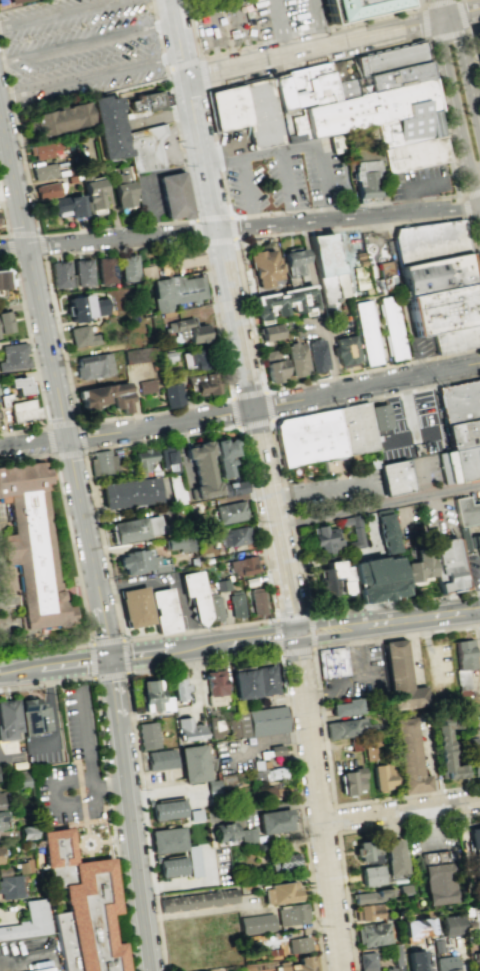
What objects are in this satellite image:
building: (9, 3)
road: (439, 4)
building: (356, 8)
road: (443, 9)
road: (60, 13)
road: (462, 15)
road: (463, 15)
parking lot: (250, 23)
road: (313, 24)
road: (424, 25)
road: (277, 28)
road: (241, 33)
road: (214, 36)
road: (447, 36)
road: (177, 40)
road: (286, 41)
building: (478, 41)
road: (87, 43)
parking lot: (80, 49)
road: (230, 49)
road: (315, 49)
road: (472, 50)
road: (198, 60)
building: (386, 60)
building: (337, 74)
road: (466, 75)
road: (90, 76)
building: (379, 82)
road: (216, 87)
building: (309, 88)
building: (280, 96)
building: (146, 102)
building: (227, 107)
building: (260, 113)
building: (372, 116)
building: (60, 118)
road: (460, 119)
building: (106, 126)
parking lot: (170, 146)
road: (173, 146)
building: (145, 148)
building: (41, 150)
road: (201, 154)
road: (261, 154)
building: (411, 156)
road: (221, 162)
road: (319, 164)
building: (43, 171)
road: (146, 176)
parking lot: (288, 177)
building: (364, 179)
road: (287, 180)
parking lot: (419, 182)
road: (409, 185)
road: (246, 186)
building: (46, 190)
road: (470, 192)
building: (92, 193)
building: (122, 194)
building: (173, 196)
parking lot: (195, 196)
parking lot: (149, 199)
building: (66, 205)
road: (465, 206)
road: (296, 216)
road: (347, 217)
road: (229, 218)
road: (252, 219)
road: (4, 220)
road: (134, 226)
road: (21, 236)
road: (121, 238)
building: (428, 241)
road: (200, 244)
road: (14, 249)
building: (186, 257)
building: (294, 260)
road: (28, 261)
road: (6, 263)
building: (326, 267)
building: (129, 268)
building: (105, 270)
building: (264, 270)
building: (82, 272)
building: (385, 272)
building: (60, 274)
road: (241, 276)
building: (437, 276)
building: (2, 279)
building: (181, 294)
building: (283, 302)
building: (84, 307)
road: (318, 307)
building: (445, 311)
road: (233, 319)
building: (4, 322)
parking lot: (327, 329)
building: (393, 329)
building: (268, 332)
building: (189, 333)
building: (368, 334)
building: (81, 336)
building: (456, 341)
road: (48, 349)
parking lot: (420, 349)
building: (344, 350)
building: (137, 354)
building: (316, 354)
building: (13, 356)
building: (296, 358)
building: (198, 359)
road: (420, 359)
building: (93, 365)
building: (272, 365)
road: (36, 369)
building: (201, 384)
building: (18, 385)
building: (145, 386)
road: (366, 386)
building: (171, 392)
building: (107, 395)
building: (459, 399)
building: (22, 410)
road: (77, 417)
building: (378, 420)
road: (410, 423)
road: (159, 425)
parking lot: (410, 426)
road: (237, 428)
building: (356, 431)
building: (463, 432)
road: (423, 435)
building: (308, 441)
road: (33, 444)
road: (53, 457)
building: (143, 458)
building: (167, 458)
building: (101, 462)
road: (27, 463)
building: (209, 463)
building: (459, 463)
road: (286, 470)
parking lot: (424, 471)
building: (394, 477)
road: (424, 477)
road: (317, 486)
building: (235, 487)
parking lot: (336, 490)
building: (129, 493)
parking lot: (475, 496)
road: (287, 497)
road: (378, 502)
building: (466, 511)
building: (230, 512)
road: (437, 513)
road: (405, 514)
road: (275, 517)
parking lot: (441, 519)
building: (135, 527)
building: (385, 530)
building: (352, 532)
road: (371, 534)
building: (236, 535)
building: (325, 539)
building: (470, 541)
building: (177, 544)
road: (71, 550)
building: (33, 557)
building: (142, 562)
park: (37, 564)
building: (446, 564)
building: (242, 565)
building: (420, 565)
road: (478, 573)
parking lot: (475, 574)
building: (333, 578)
building: (376, 578)
building: (251, 581)
building: (195, 595)
building: (256, 602)
building: (236, 605)
building: (136, 606)
building: (215, 607)
road: (471, 608)
building: (164, 610)
road: (302, 616)
road: (410, 617)
road: (285, 619)
road: (327, 621)
road: (104, 623)
road: (275, 624)
road: (276, 627)
road: (312, 631)
road: (277, 635)
road: (329, 635)
road: (123, 639)
road: (268, 640)
road: (232, 641)
road: (288, 641)
road: (106, 642)
road: (278, 647)
road: (45, 649)
road: (159, 650)
road: (296, 651)
building: (464, 654)
road: (123, 655)
traffic signals: (112, 657)
road: (92, 660)
road: (211, 661)
road: (65, 663)
building: (333, 663)
road: (9, 671)
road: (109, 674)
parking lot: (359, 675)
road: (93, 680)
building: (266, 680)
building: (403, 681)
building: (216, 683)
building: (245, 683)
road: (353, 684)
building: (178, 688)
road: (116, 691)
building: (151, 697)
building: (346, 707)
building: (478, 711)
building: (33, 717)
road: (56, 717)
road: (323, 717)
building: (9, 720)
building: (261, 722)
building: (231, 726)
building: (214, 728)
building: (346, 728)
building: (187, 730)
road: (87, 735)
building: (147, 735)
building: (374, 744)
building: (355, 745)
building: (445, 749)
building: (275, 750)
road: (8, 751)
parking lot: (9, 751)
building: (410, 756)
building: (161, 760)
building: (476, 760)
parking lot: (48, 761)
building: (191, 764)
parking lot: (73, 773)
building: (268, 774)
building: (386, 777)
building: (352, 781)
building: (227, 784)
road: (110, 786)
road: (106, 787)
road: (53, 791)
building: (213, 792)
building: (274, 793)
building: (0, 801)
road: (319, 805)
building: (165, 810)
road: (401, 814)
building: (194, 816)
road: (335, 820)
building: (1, 821)
building: (273, 821)
building: (26, 832)
building: (224, 832)
road: (340, 834)
building: (250, 836)
building: (473, 838)
road: (104, 840)
building: (166, 840)
road: (137, 848)
building: (367, 852)
road: (101, 856)
building: (393, 857)
building: (2, 859)
building: (193, 861)
building: (286, 866)
building: (169, 867)
building: (475, 875)
building: (369, 876)
building: (436, 877)
road: (120, 884)
building: (402, 888)
building: (13, 892)
building: (279, 893)
building: (370, 896)
building: (197, 900)
building: (85, 908)
building: (366, 911)
building: (475, 911)
building: (39, 914)
building: (291, 915)
building: (255, 924)
building: (450, 925)
building: (415, 929)
building: (372, 934)
building: (297, 944)
building: (436, 945)
building: (272, 952)
building: (396, 956)
building: (477, 958)
building: (366, 961)
building: (414, 961)
road: (28, 963)
building: (444, 963)
building: (298, 965)
building: (386, 968)
building: (42, 969)

